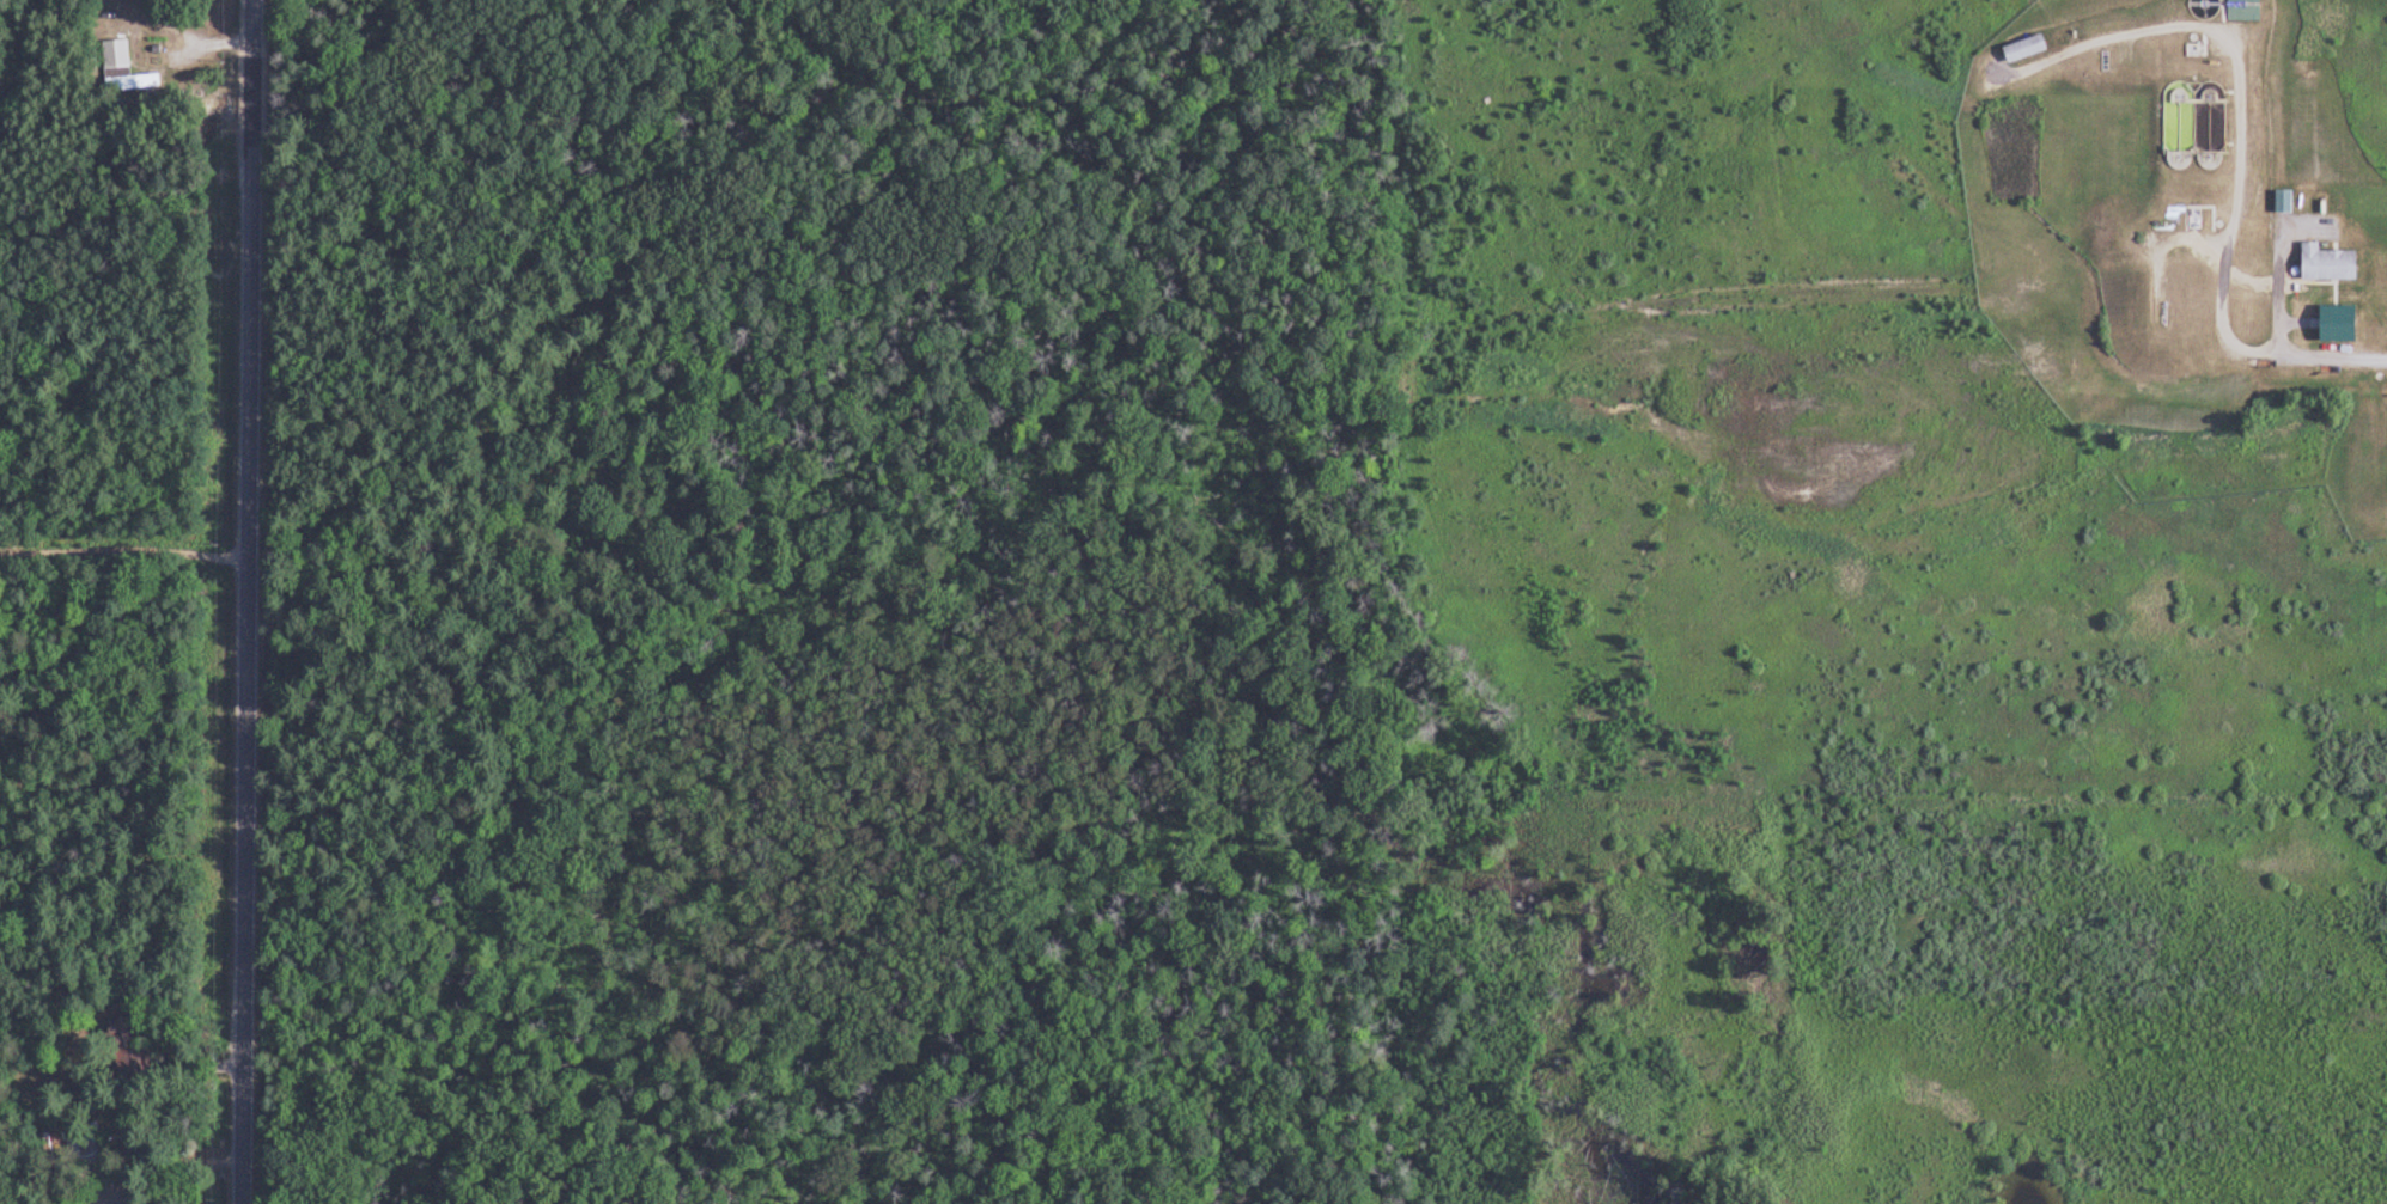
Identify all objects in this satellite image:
road: (127, 49)
building: (2030, 49)
building: (136, 82)
building: (2333, 263)
road: (124, 552)
road: (250, 601)
building: (127, 1043)
building: (87, 1145)

